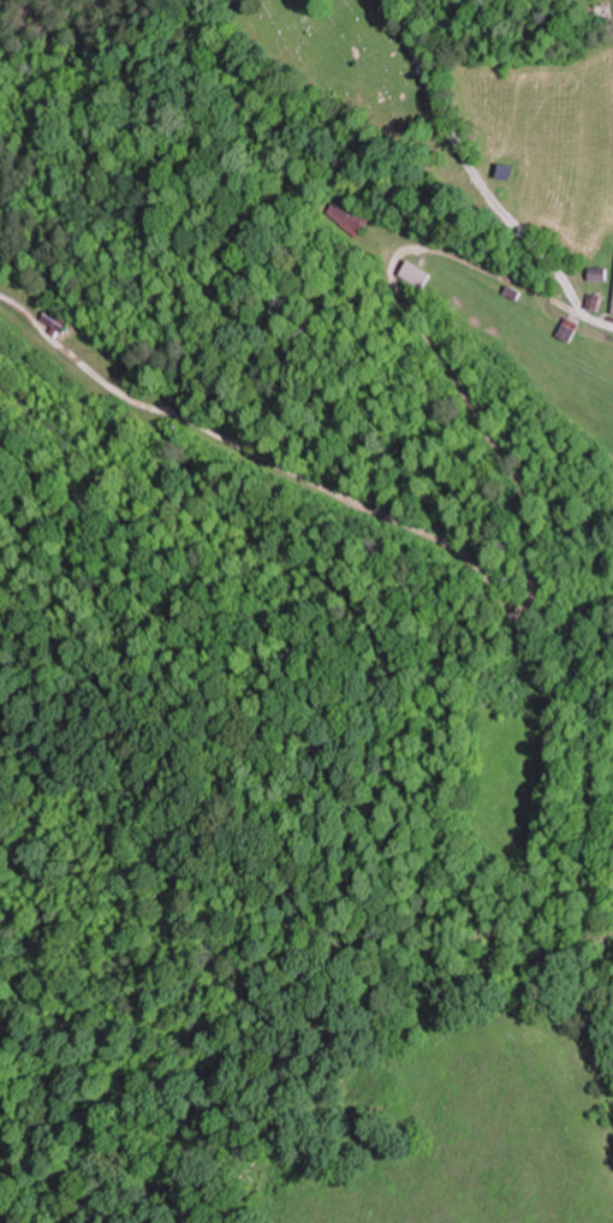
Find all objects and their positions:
park: (335, 66)
road: (476, 174)
building: (347, 215)
building: (596, 273)
building: (413, 274)
building: (612, 307)
building: (54, 321)
building: (565, 330)

